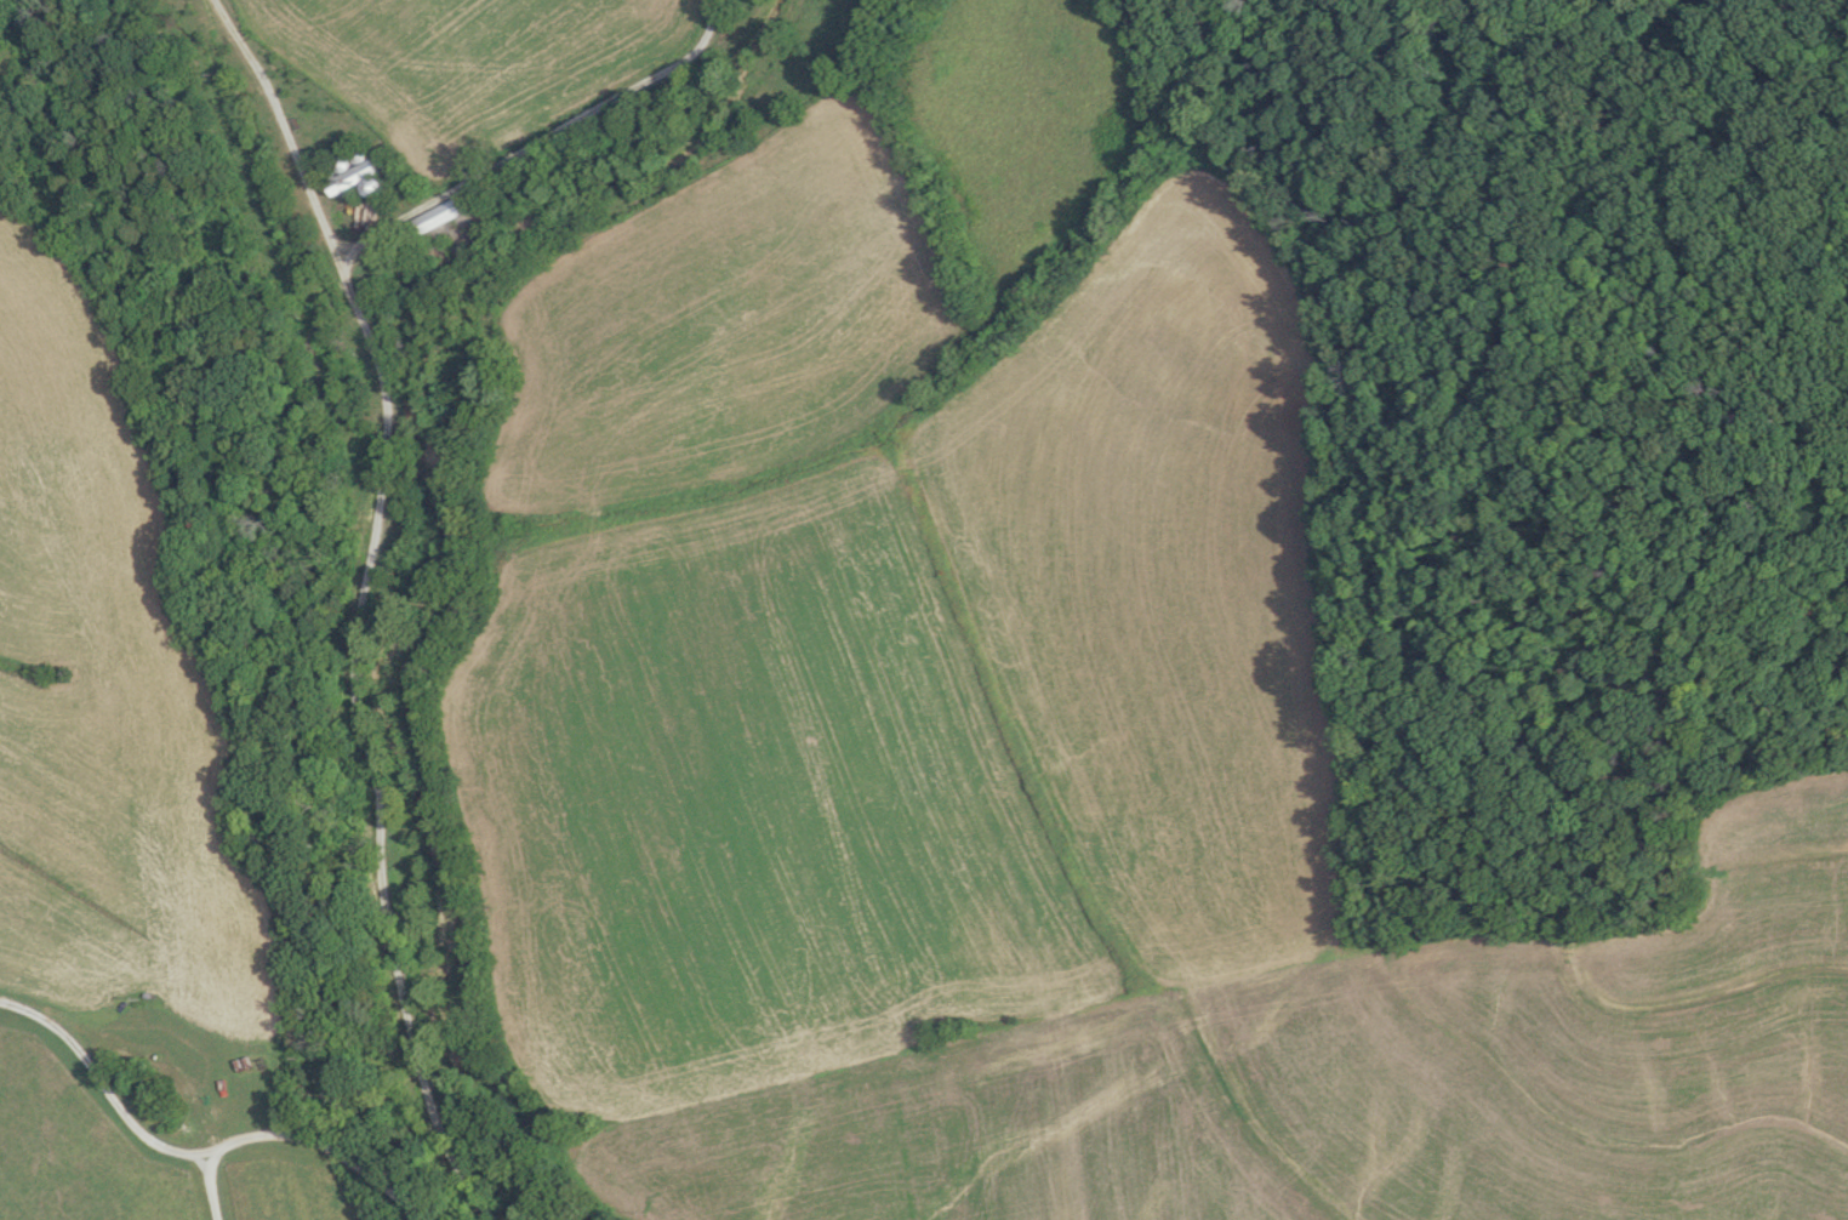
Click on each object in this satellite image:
building: (665, 97)
road: (279, 127)
road: (541, 144)
building: (355, 177)
building: (438, 215)
road: (360, 748)
road: (196, 1156)
road: (222, 1185)

